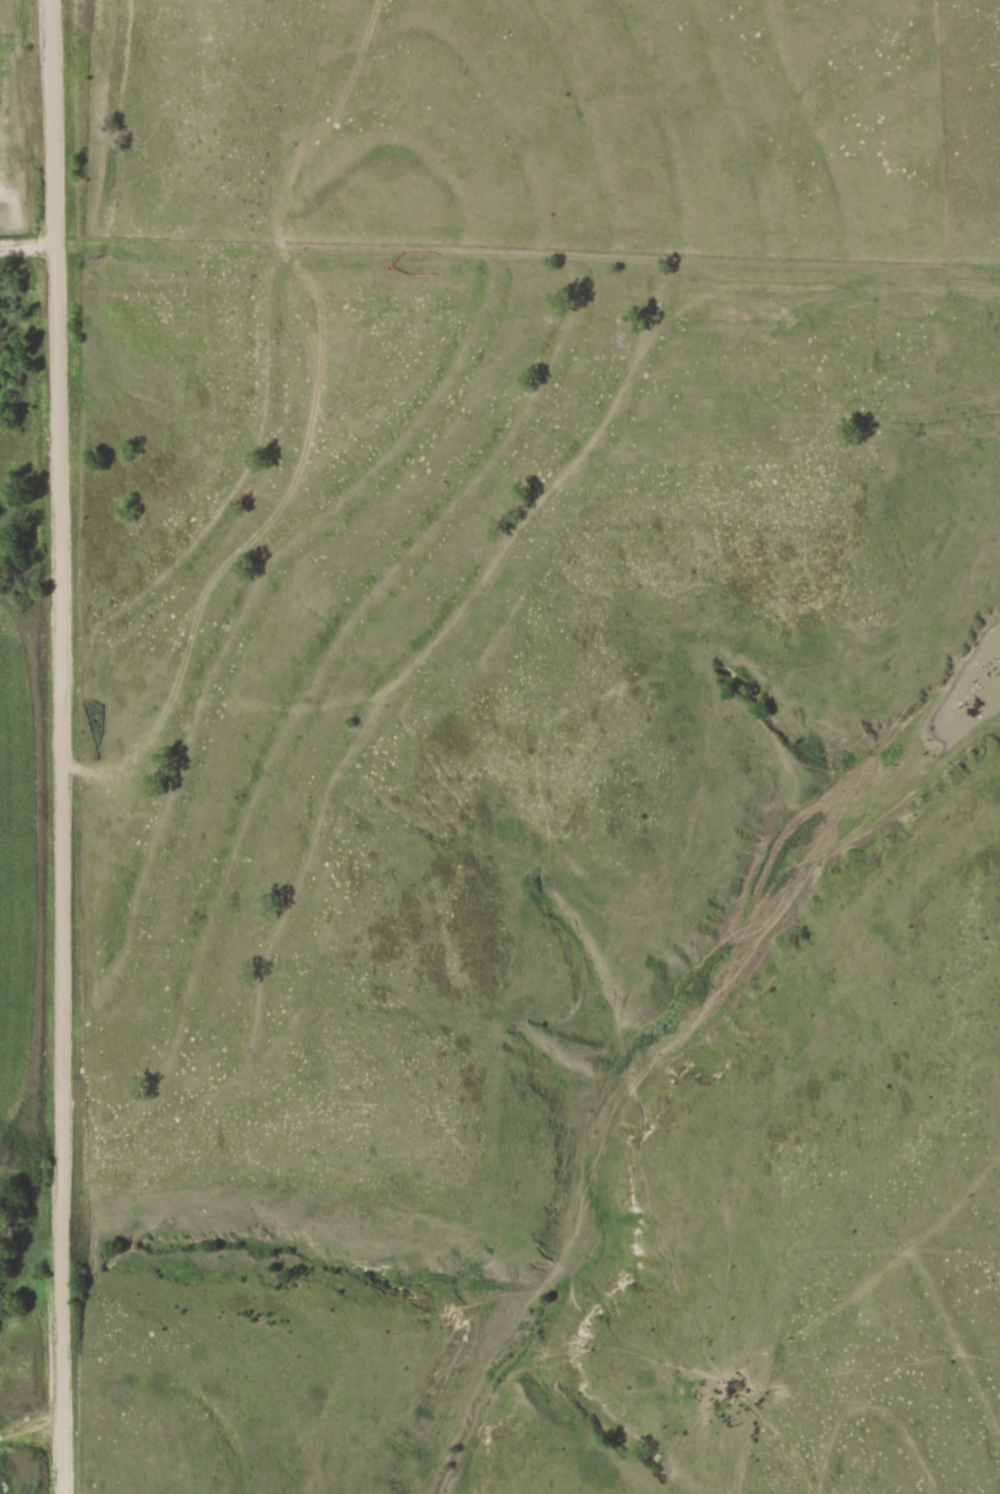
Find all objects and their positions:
road: (28, 249)
road: (62, 746)

